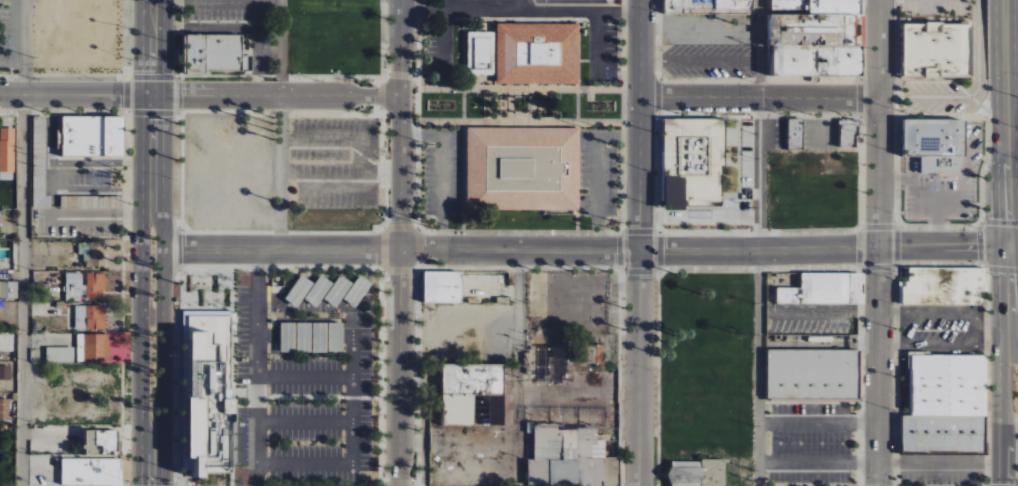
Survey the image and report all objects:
building: (577, 0)
road: (520, 5)
building: (790, 5)
building: (708, 6)
road: (523, 10)
building: (818, 41)
road: (758, 48)
building: (937, 51)
building: (213, 54)
building: (481, 54)
building: (537, 54)
road: (701, 61)
road: (974, 93)
road: (763, 96)
road: (201, 98)
road: (1009, 123)
road: (278, 126)
building: (795, 134)
building: (848, 134)
building: (92, 135)
building: (935, 143)
building: (7, 153)
building: (693, 162)
building: (523, 168)
road: (598, 172)
building: (40, 173)
road: (438, 178)
building: (84, 202)
road: (153, 242)
road: (879, 242)
road: (26, 243)
road: (403, 243)
road: (645, 243)
building: (93, 253)
road: (585, 253)
building: (73, 284)
building: (95, 285)
building: (943, 285)
building: (442, 287)
building: (9, 289)
building: (825, 289)
building: (299, 290)
building: (318, 290)
building: (338, 290)
building: (357, 290)
road: (825, 309)
building: (95, 317)
building: (537, 323)
building: (93, 347)
building: (590, 353)
building: (59, 354)
building: (557, 366)
road: (1012, 366)
road: (757, 368)
road: (257, 369)
road: (519, 369)
building: (5, 372)
building: (813, 375)
parking lot: (304, 378)
road: (304, 378)
building: (205, 388)
building: (472, 394)
building: (947, 403)
building: (4, 409)
road: (1015, 409)
road: (818, 422)
road: (303, 423)
road: (351, 434)
building: (607, 434)
building: (101, 442)
building: (568, 446)
road: (818, 460)
road: (946, 461)
building: (91, 472)
building: (713, 472)
building: (685, 473)

